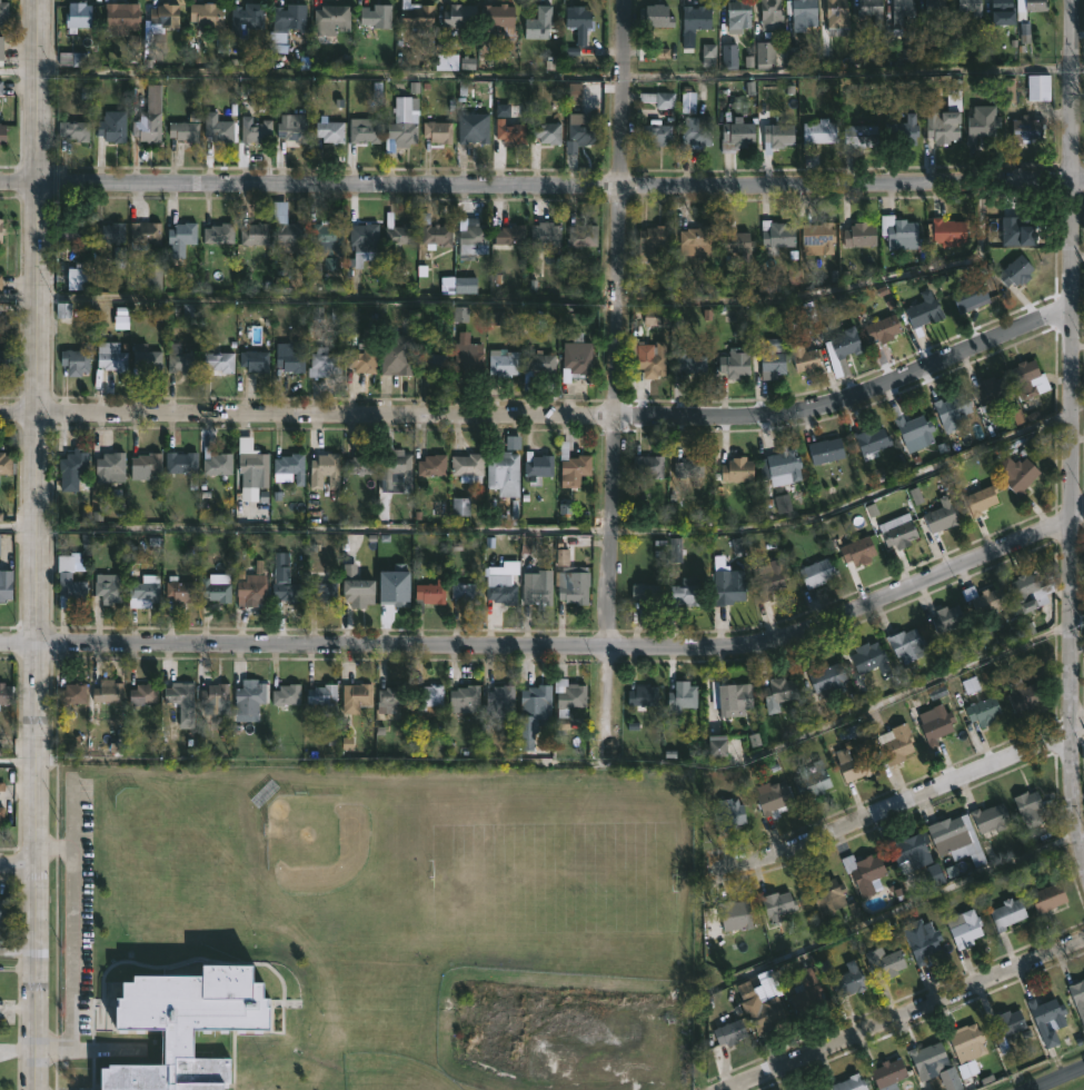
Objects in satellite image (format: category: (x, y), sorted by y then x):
building: (1035, 6)
building: (933, 7)
building: (969, 7)
building: (869, 9)
building: (899, 9)
building: (803, 10)
building: (4, 12)
building: (1001, 12)
building: (415, 14)
building: (76, 16)
building: (120, 16)
building: (162, 16)
building: (458, 16)
building: (654, 16)
building: (769, 16)
building: (203, 17)
building: (375, 17)
building: (497, 17)
building: (737, 17)
building: (245, 18)
building: (287, 18)
building: (694, 19)
building: (326, 20)
building: (578, 22)
building: (537, 23)
building: (834, 23)
building: (3, 47)
building: (764, 54)
building: (70, 59)
building: (453, 62)
road: (630, 75)
road: (20, 77)
building: (1038, 88)
building: (658, 99)
building: (148, 117)
building: (401, 123)
building: (979, 123)
building: (110, 127)
building: (216, 128)
building: (943, 128)
building: (902, 129)
building: (1026, 129)
building: (72, 130)
building: (362, 130)
building: (509, 130)
building: (182, 131)
building: (255, 131)
building: (328, 131)
building: (436, 132)
building: (473, 132)
building: (546, 132)
building: (818, 132)
building: (1, 133)
building: (290, 133)
building: (584, 133)
building: (655, 133)
building: (694, 133)
building: (735, 135)
building: (862, 137)
building: (769, 139)
road: (541, 185)
building: (1005, 228)
building: (1, 231)
building: (71, 232)
building: (397, 232)
building: (108, 234)
building: (181, 234)
building: (217, 234)
building: (435, 234)
building: (253, 235)
building: (508, 235)
building: (143, 236)
building: (580, 236)
building: (859, 236)
building: (544, 237)
building: (775, 237)
building: (945, 237)
building: (289, 238)
building: (473, 239)
building: (816, 239)
building: (325, 241)
building: (650, 241)
building: (695, 241)
building: (361, 244)
building: (736, 245)
building: (1015, 272)
building: (76, 279)
building: (461, 286)
road: (466, 294)
building: (968, 297)
building: (460, 313)
building: (922, 313)
building: (882, 329)
building: (799, 349)
building: (844, 349)
building: (364, 353)
building: (109, 356)
building: (396, 356)
building: (287, 358)
building: (647, 358)
building: (773, 358)
building: (143, 359)
building: (467, 359)
building: (575, 359)
building: (4, 360)
building: (181, 360)
building: (73, 361)
building: (252, 361)
building: (218, 363)
building: (501, 363)
building: (538, 363)
building: (688, 363)
building: (734, 363)
building: (322, 364)
building: (437, 364)
road: (617, 379)
building: (1027, 379)
building: (989, 389)
building: (951, 409)
road: (549, 427)
building: (912, 427)
road: (1072, 432)
building: (871, 439)
building: (825, 449)
building: (215, 462)
building: (391, 462)
building: (4, 463)
building: (180, 463)
building: (358, 464)
building: (646, 464)
building: (143, 465)
building: (430, 465)
building: (687, 466)
building: (109, 467)
building: (288, 467)
building: (467, 467)
building: (536, 467)
building: (69, 469)
building: (324, 469)
building: (574, 469)
building: (736, 469)
building: (783, 469)
building: (251, 470)
building: (501, 472)
building: (1016, 474)
building: (979, 499)
building: (941, 515)
building: (897, 531)
road: (554, 537)
road: (38, 544)
building: (856, 549)
building: (816, 572)
building: (769, 576)
building: (282, 579)
building: (7, 583)
building: (68, 584)
building: (571, 584)
building: (250, 586)
building: (107, 587)
building: (499, 588)
building: (726, 588)
building: (178, 589)
building: (213, 589)
building: (1027, 589)
building: (322, 591)
building: (535, 591)
building: (142, 592)
building: (357, 592)
building: (394, 592)
building: (465, 592)
building: (684, 593)
building: (427, 594)
building: (645, 594)
building: (984, 598)
road: (1076, 616)
building: (946, 617)
building: (906, 644)
road: (555, 648)
building: (868, 658)
building: (824, 677)
building: (103, 688)
building: (778, 691)
building: (177, 692)
building: (4, 693)
building: (142, 693)
building: (71, 694)
building: (568, 694)
building: (213, 695)
building: (285, 695)
building: (428, 695)
building: (464, 695)
building: (642, 695)
building: (680, 695)
building: (321, 696)
building: (1024, 696)
building: (354, 697)
building: (729, 697)
building: (248, 698)
building: (388, 698)
building: (498, 703)
road: (889, 703)
building: (530, 708)
building: (983, 710)
building: (934, 723)
building: (895, 743)
building: (717, 747)
building: (854, 761)
road: (19, 765)
building: (812, 780)
building: (2, 785)
building: (770, 796)
road: (903, 805)
building: (1030, 807)
building: (1, 813)
building: (727, 813)
building: (989, 817)
building: (151, 832)
building: (955, 839)
building: (908, 853)
road: (20, 863)
building: (864, 872)
building: (151, 891)
building: (832, 895)
building: (1046, 898)
building: (775, 904)
building: (3, 910)
road: (899, 910)
building: (1006, 913)
building: (151, 914)
building: (734, 914)
building: (189, 919)
building: (963, 929)
building: (151, 937)
building: (919, 940)
building: (190, 941)
road: (73, 949)
road: (20, 953)
building: (884, 962)
building: (191, 964)
building: (847, 981)
building: (805, 992)
building: (1077, 995)
building: (760, 1001)
road: (905, 1014)
building: (1046, 1019)
building: (183, 1023)
building: (1006, 1023)
building: (728, 1032)
building: (966, 1043)
building: (933, 1064)
building: (887, 1073)
road: (1055, 1078)
building: (848, 1083)

